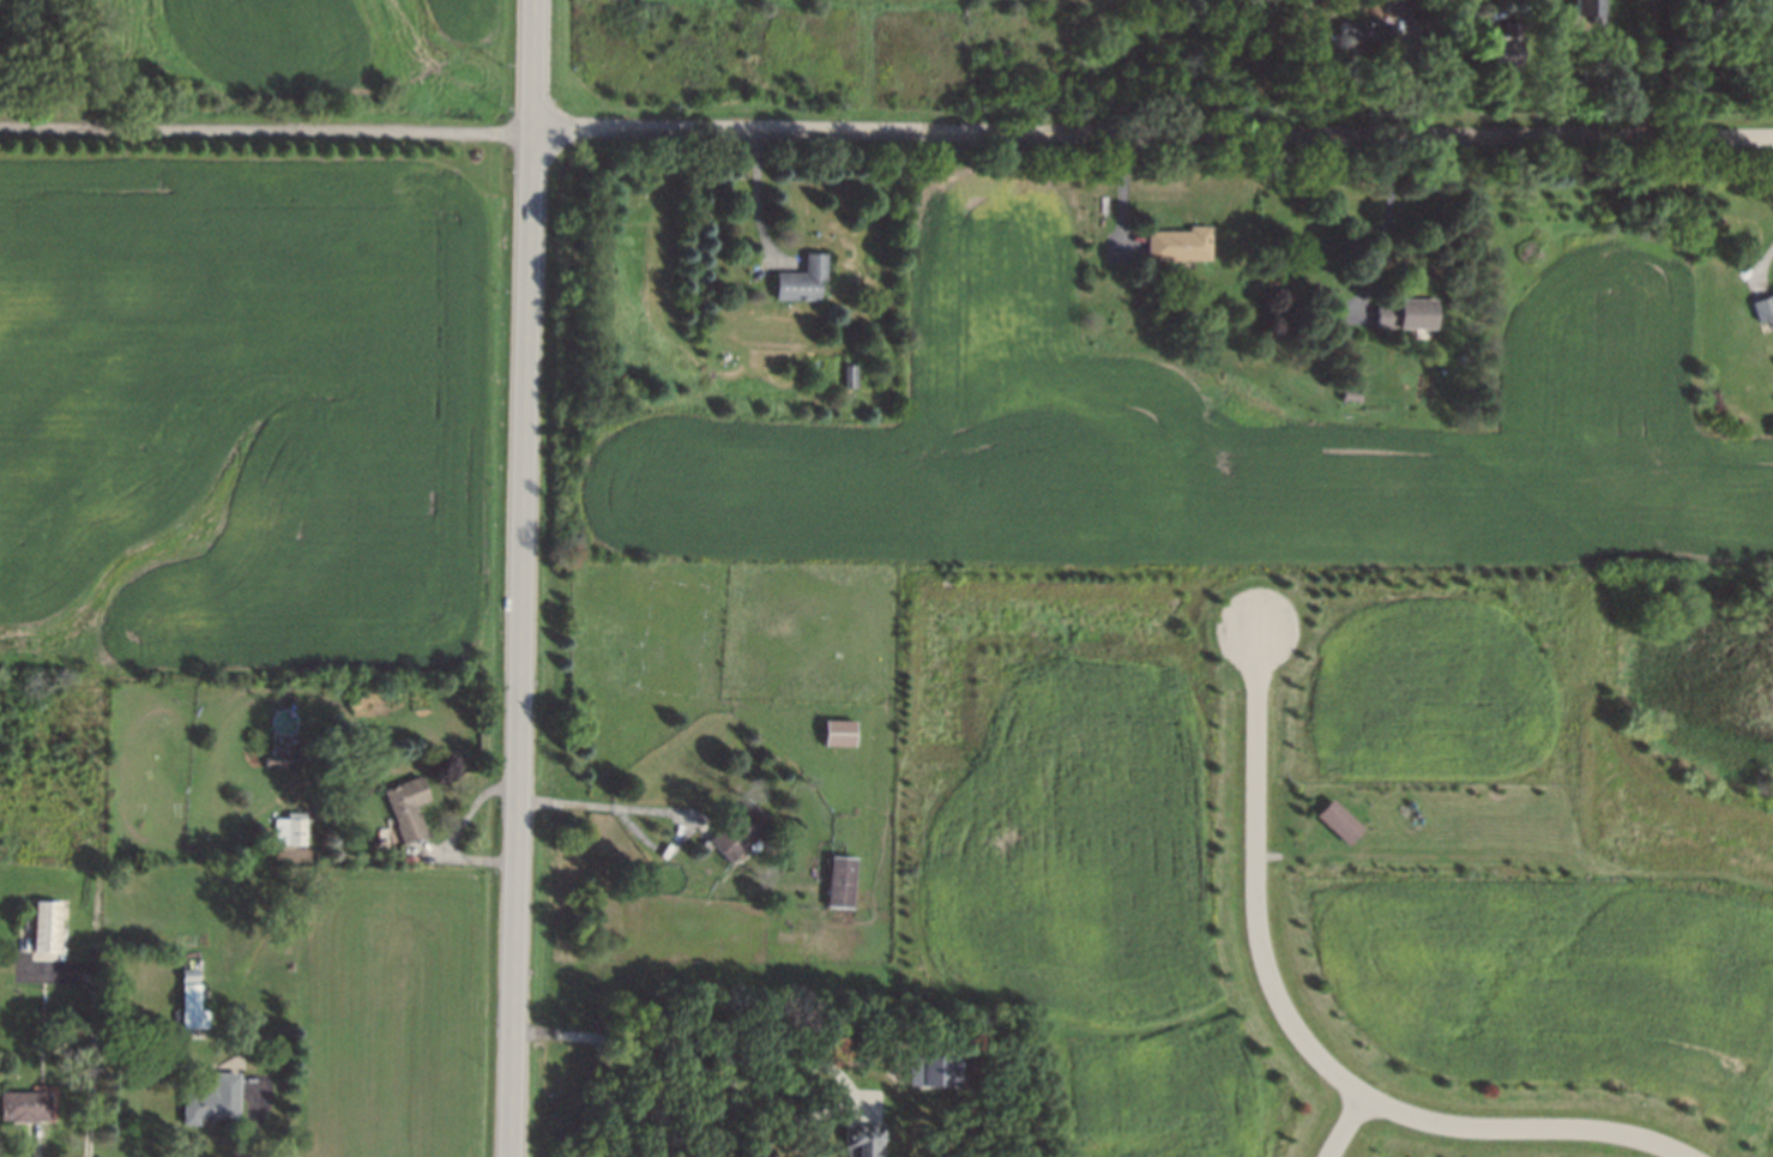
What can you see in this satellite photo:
building: (1398, 6)
building: (1588, 10)
building: (1364, 31)
building: (1501, 48)
road: (266, 132)
road: (1152, 132)
road: (1383, 216)
building: (1178, 243)
building: (802, 279)
building: (1762, 307)
building: (1406, 313)
building: (850, 375)
road: (520, 578)
building: (838, 734)
building: (284, 760)
road: (589, 801)
building: (406, 806)
building: (1339, 821)
building: (290, 828)
building: (740, 833)
road: (1516, 858)
building: (840, 882)
building: (47, 927)
building: (191, 999)
crop: (397, 1014)
road: (1303, 1040)
road: (95, 1045)
building: (934, 1071)
road: (738, 1085)
building: (215, 1099)
building: (25, 1105)
road: (254, 1121)
road: (1350, 1128)
building: (862, 1140)

